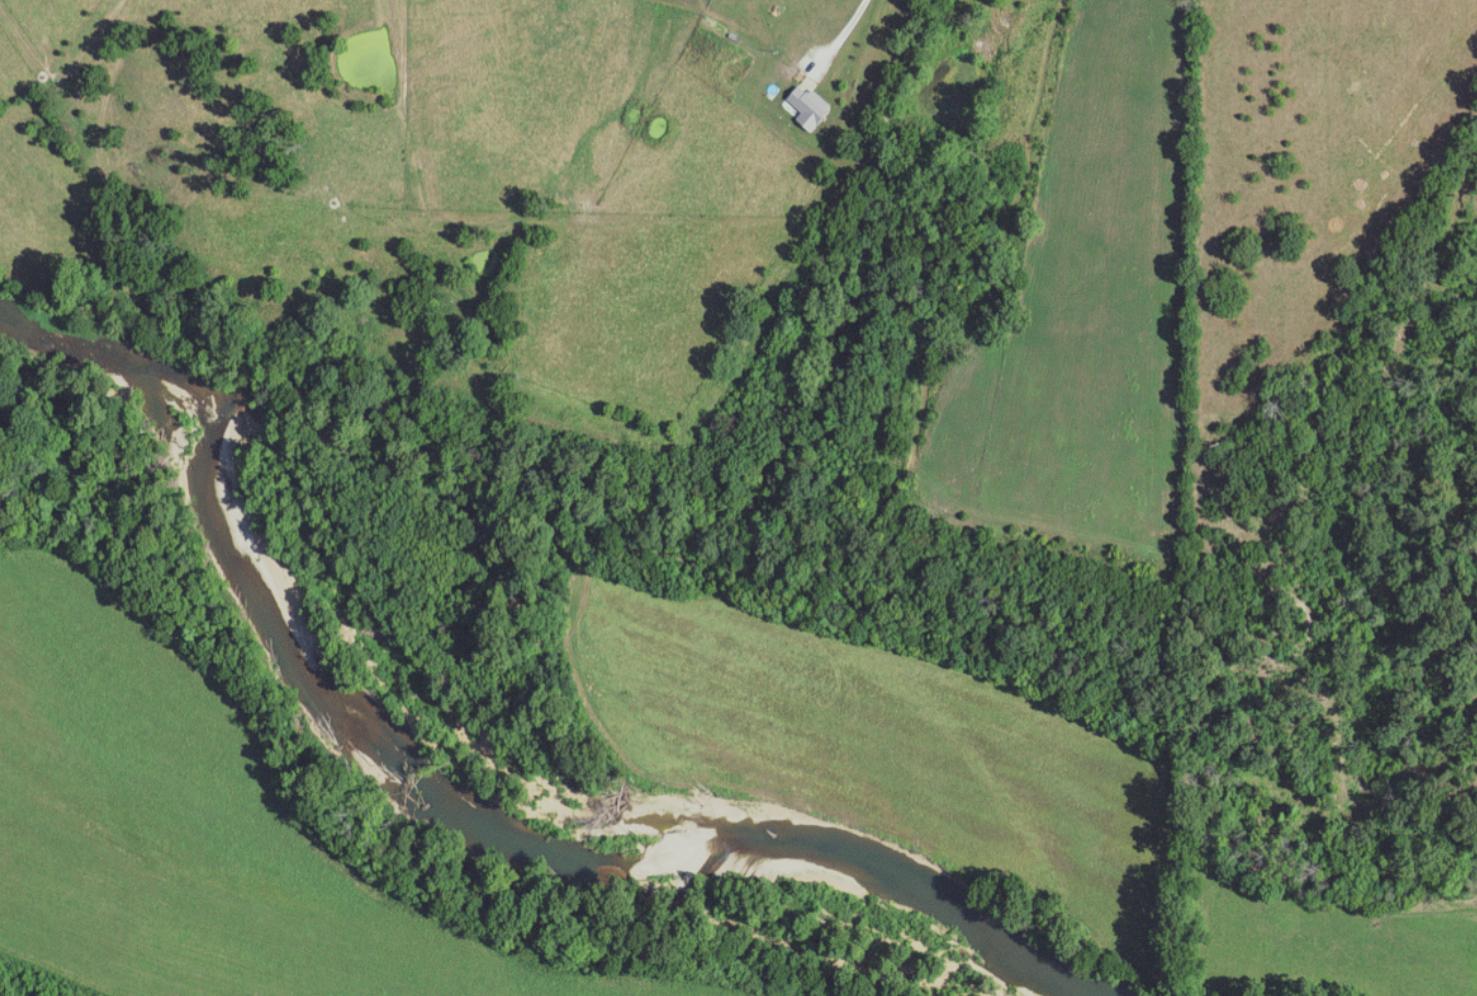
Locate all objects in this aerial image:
road: (844, 37)
road: (74, 74)
building: (816, 106)
river: (448, 809)

